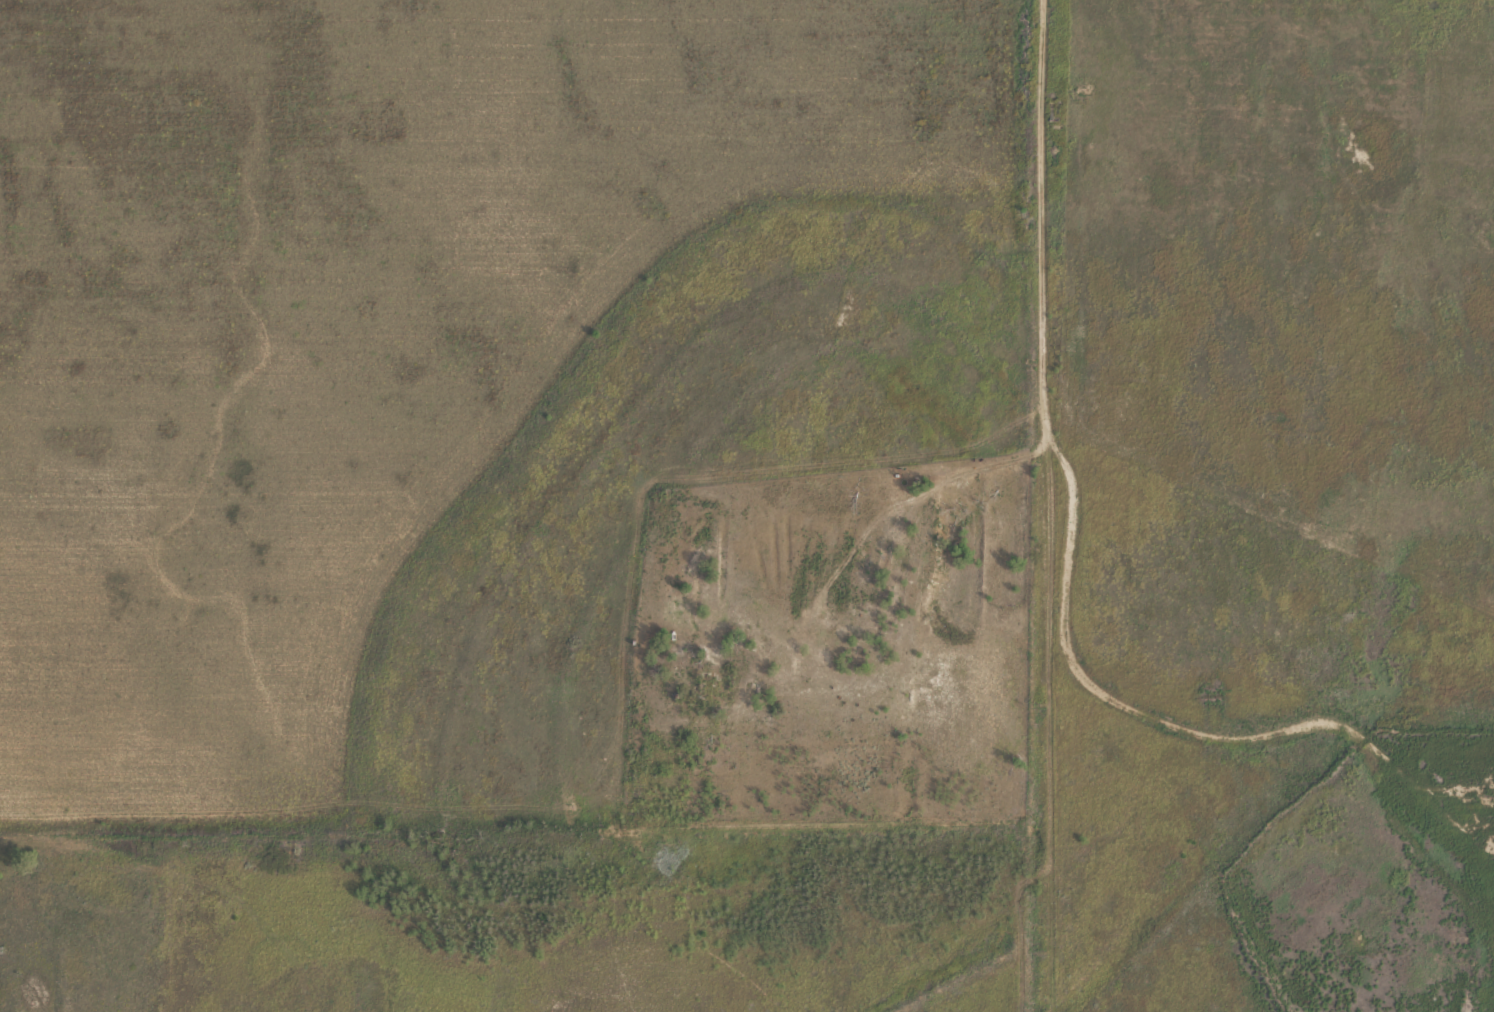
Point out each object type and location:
road: (1039, 506)

